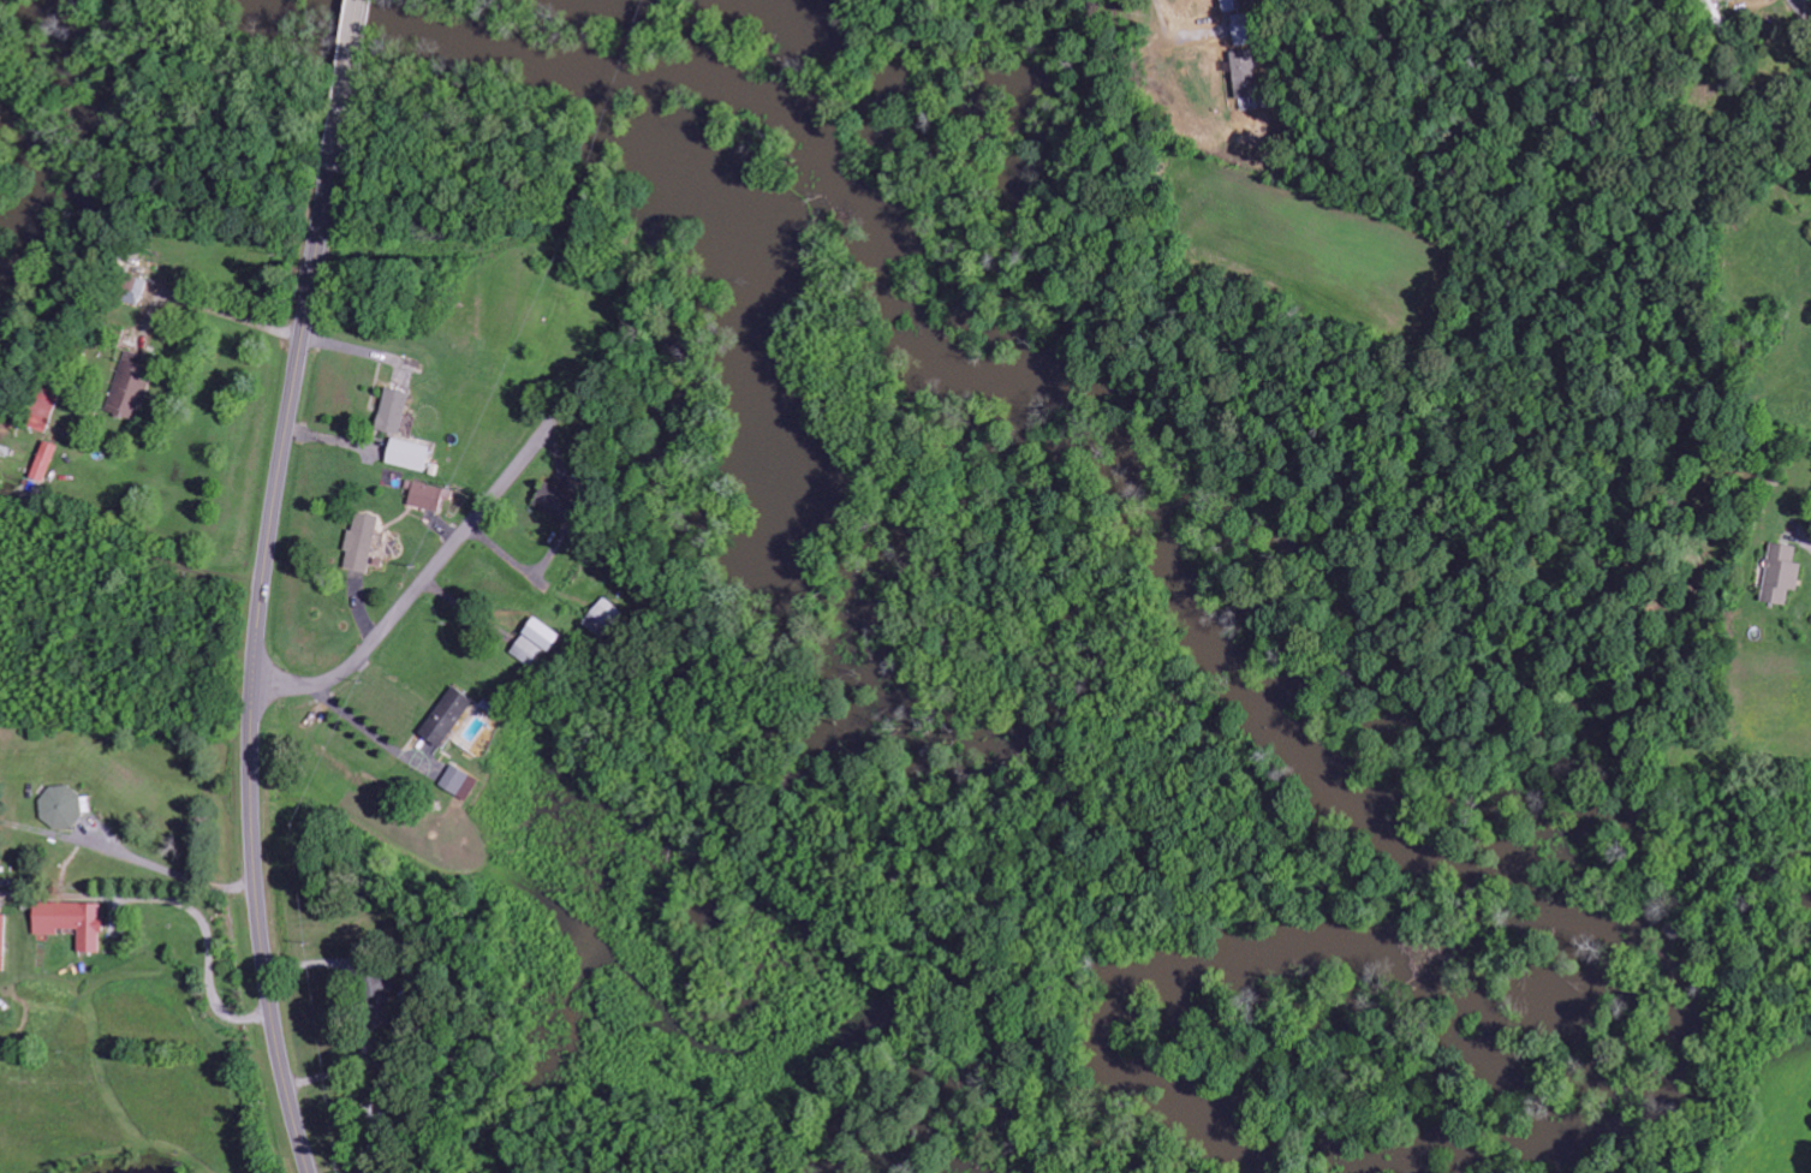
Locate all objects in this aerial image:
road: (1804, 10)
building: (1712, 12)
building: (1244, 73)
road: (350, 82)
river: (38, 195)
building: (133, 288)
building: (127, 381)
building: (46, 406)
building: (392, 411)
building: (406, 454)
building: (425, 495)
building: (553, 501)
building: (361, 542)
building: (1780, 573)
road: (429, 574)
building: (606, 614)
building: (535, 642)
road: (258, 667)
river: (1232, 671)
building: (446, 718)
building: (459, 782)
building: (60, 804)
building: (64, 916)
building: (2, 941)

